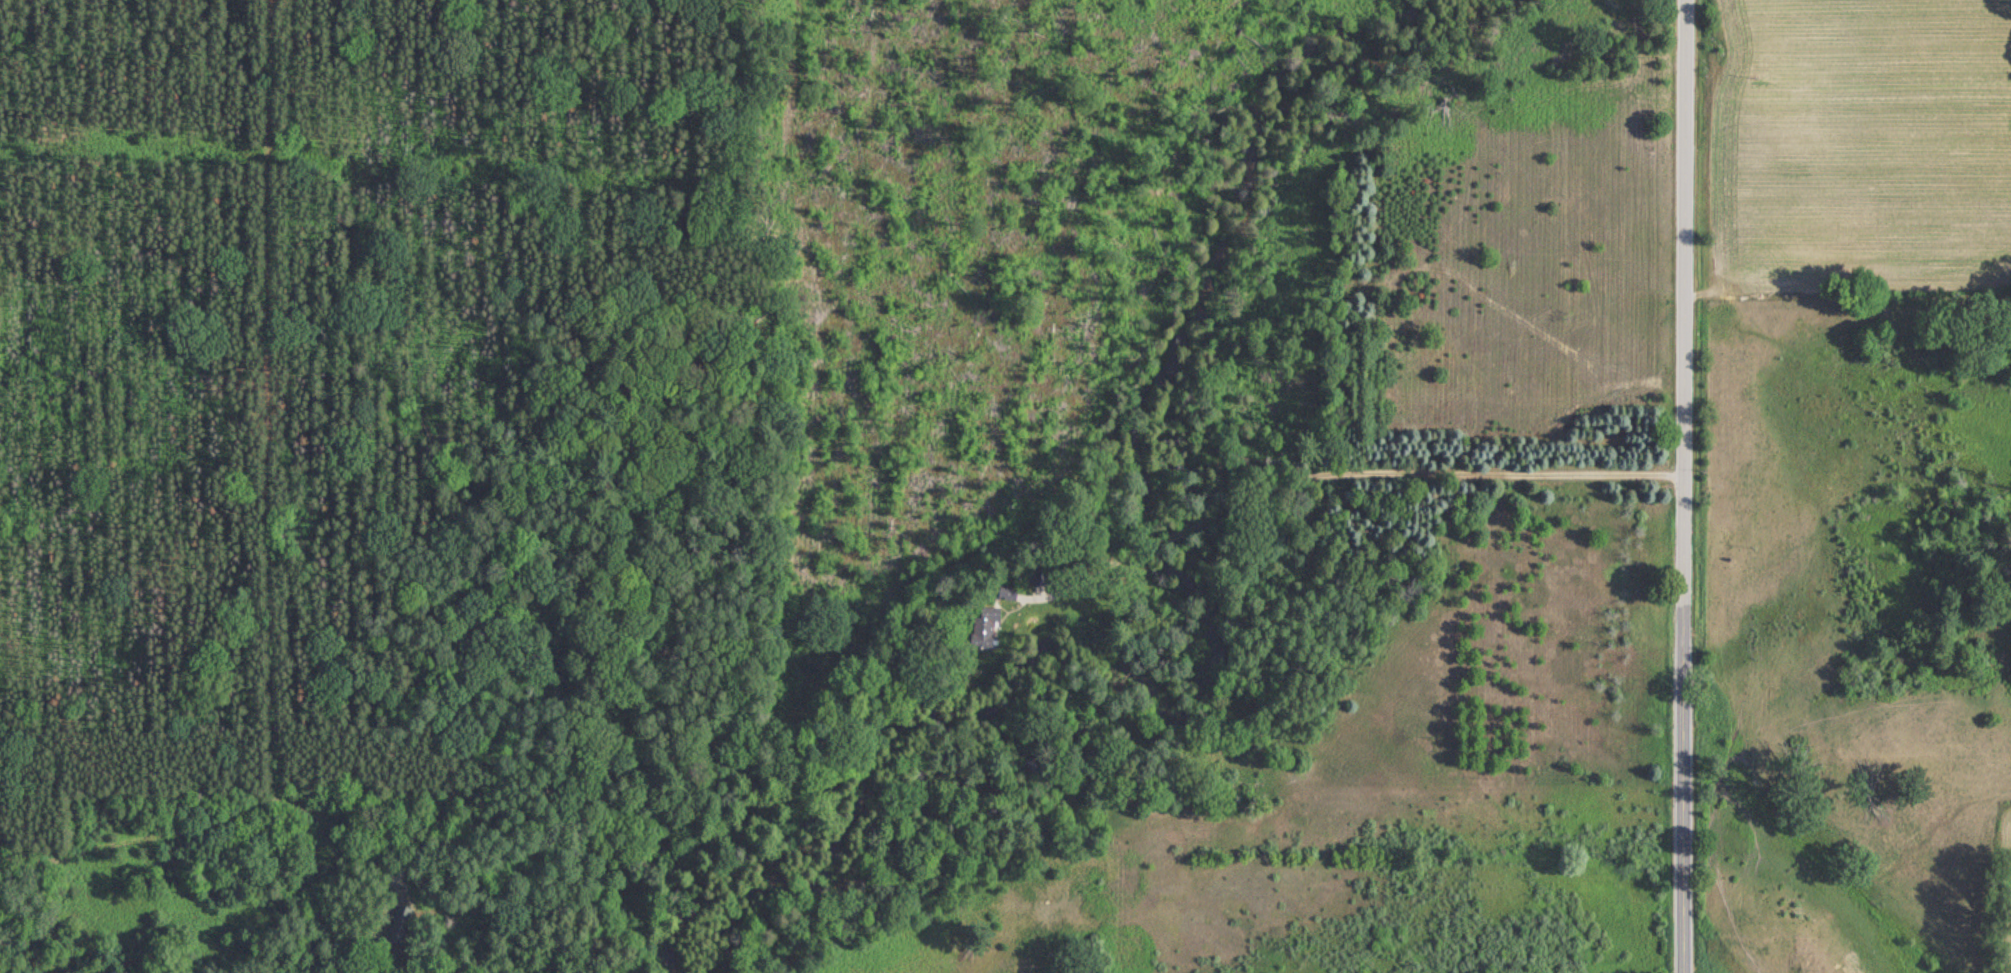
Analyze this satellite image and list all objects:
road: (1675, 486)

